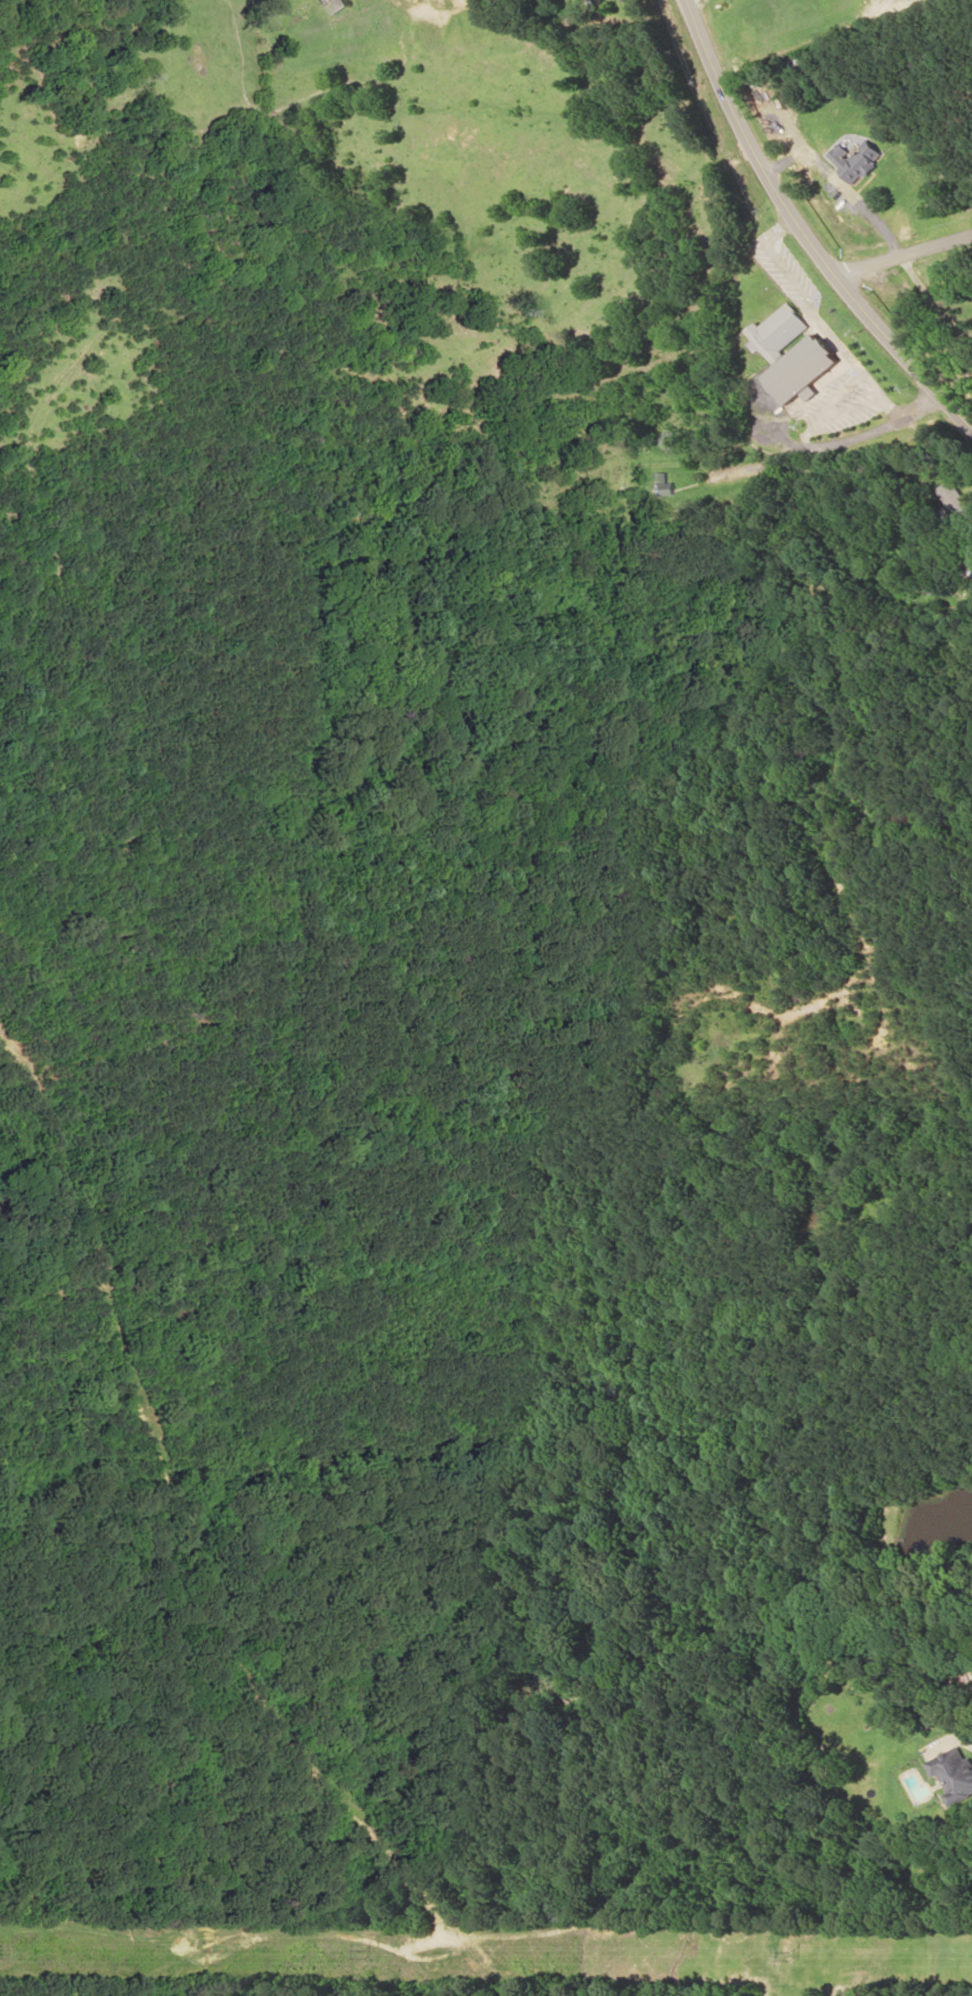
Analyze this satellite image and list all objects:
building: (322, 0)
building: (338, 4)
building: (855, 159)
road: (808, 228)
road: (905, 255)
building: (779, 331)
building: (803, 366)
building: (661, 484)
building: (954, 498)
building: (955, 1769)
power tower: (362, 1953)
power tower: (788, 1955)

